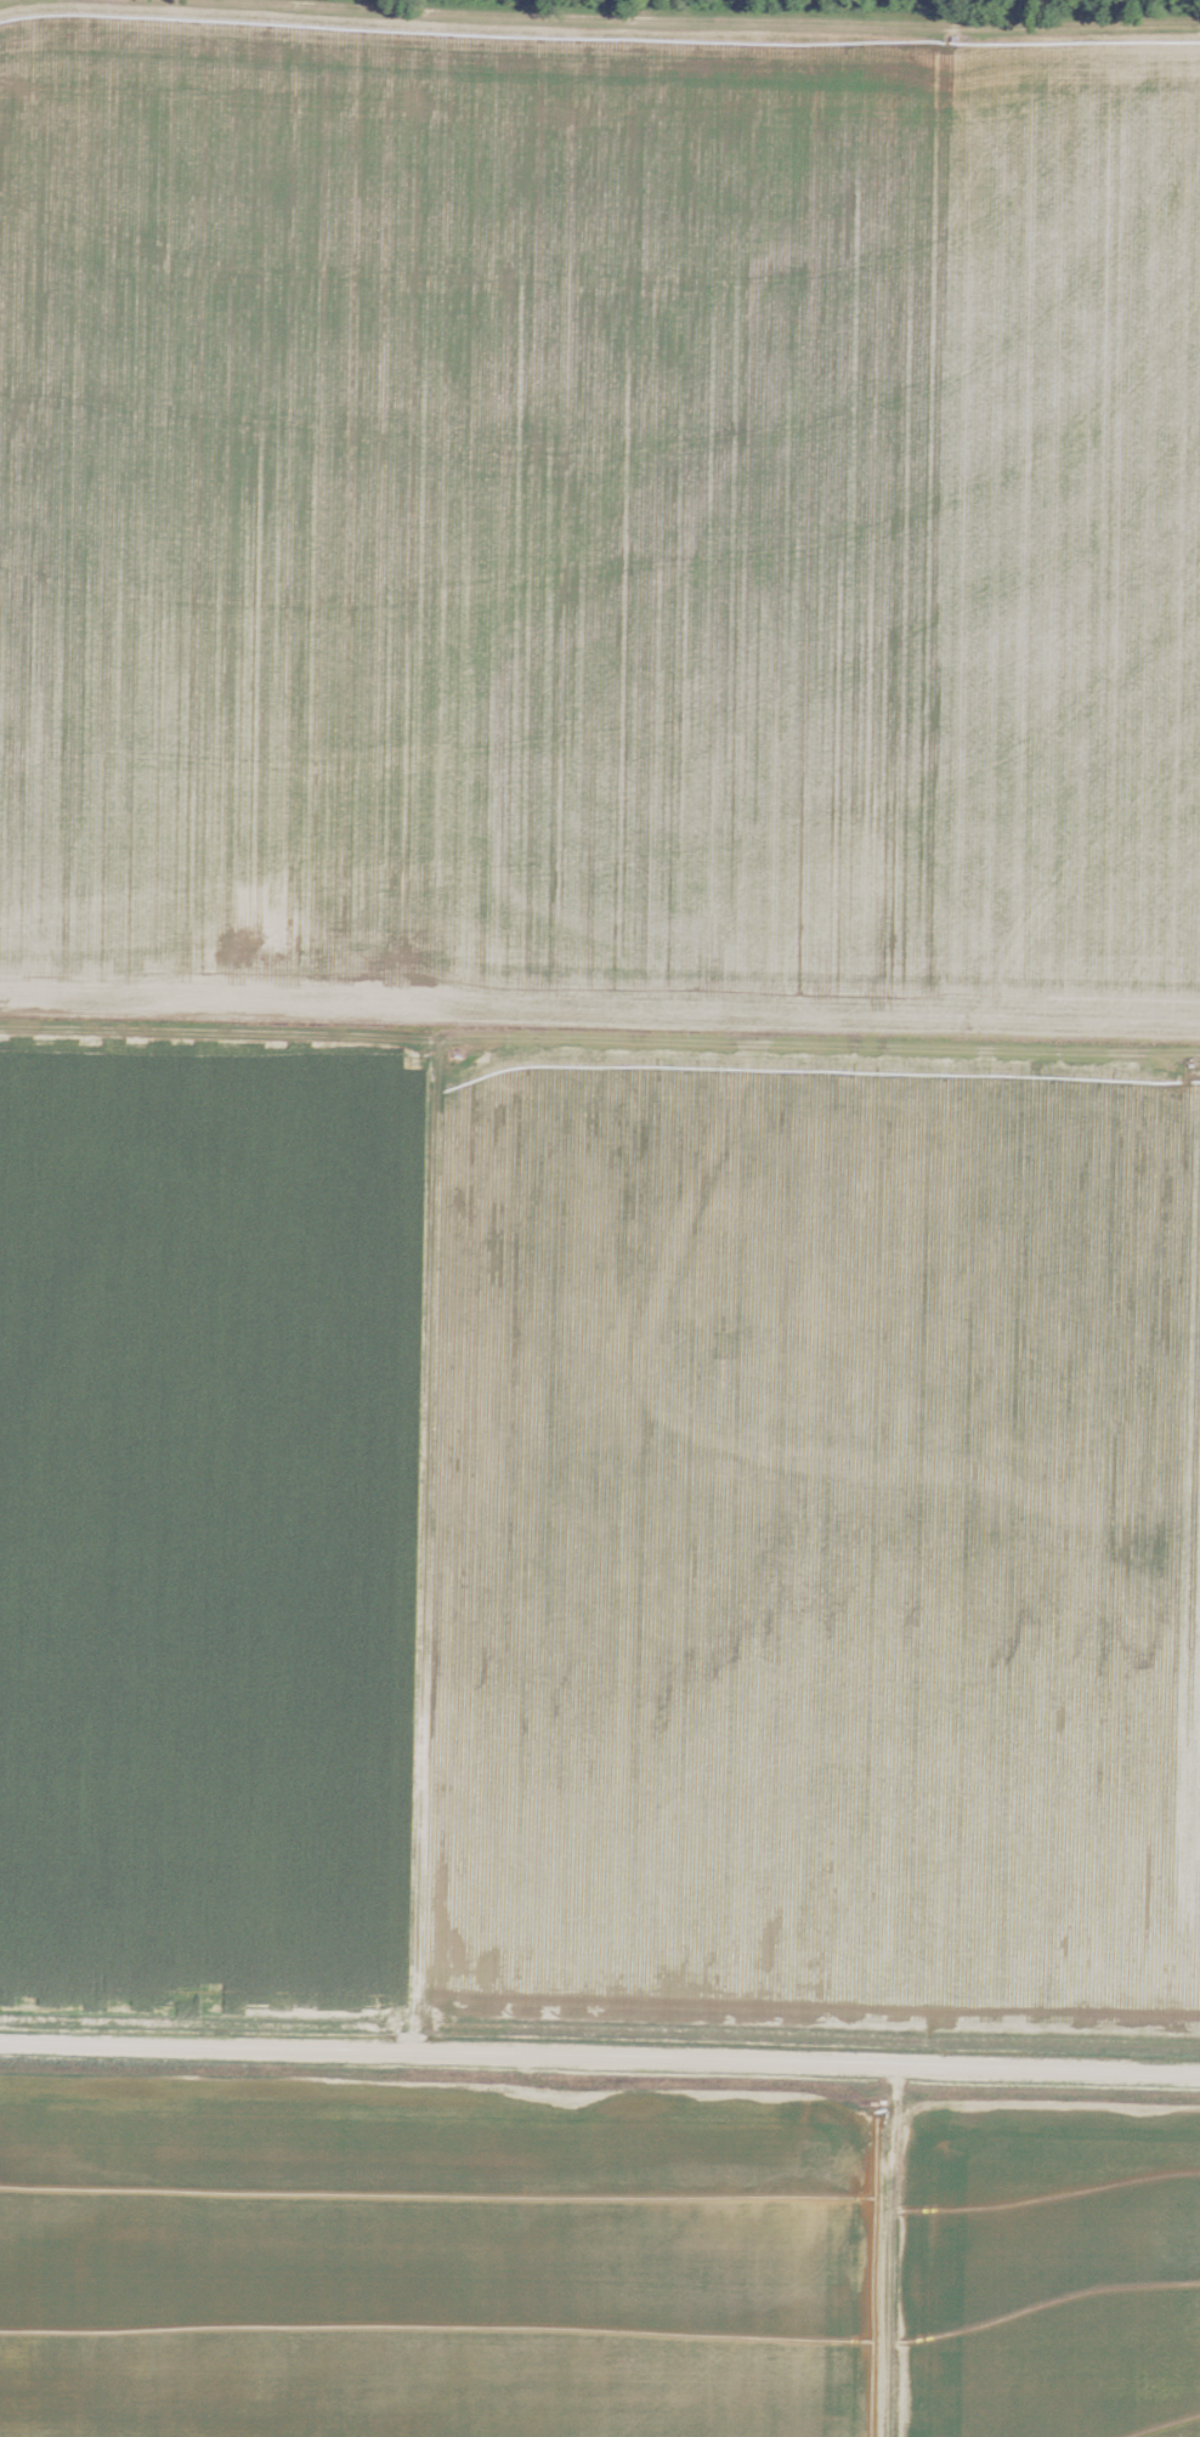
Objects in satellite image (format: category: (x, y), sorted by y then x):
road: (686, 22)
road: (600, 1030)
road: (600, 2059)

